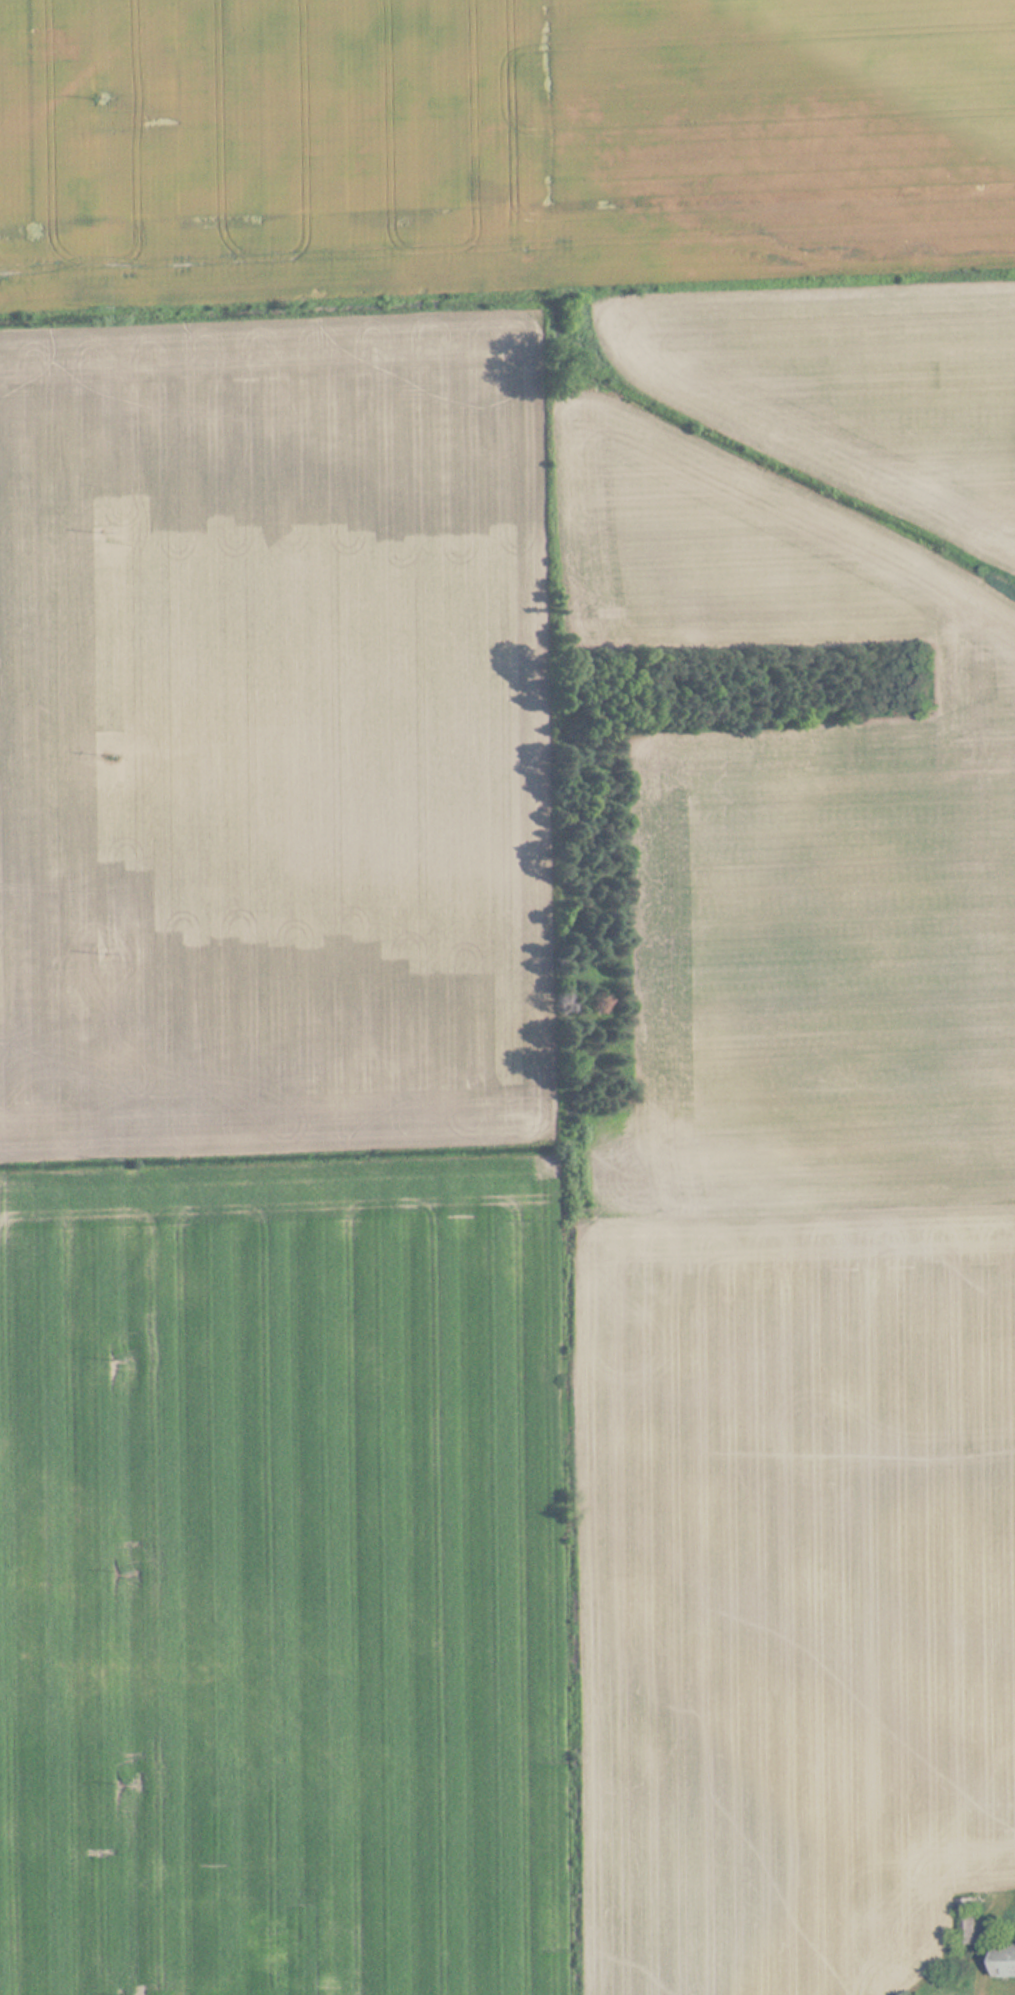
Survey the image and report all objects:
building: (967, 1922)
building: (1009, 1962)

